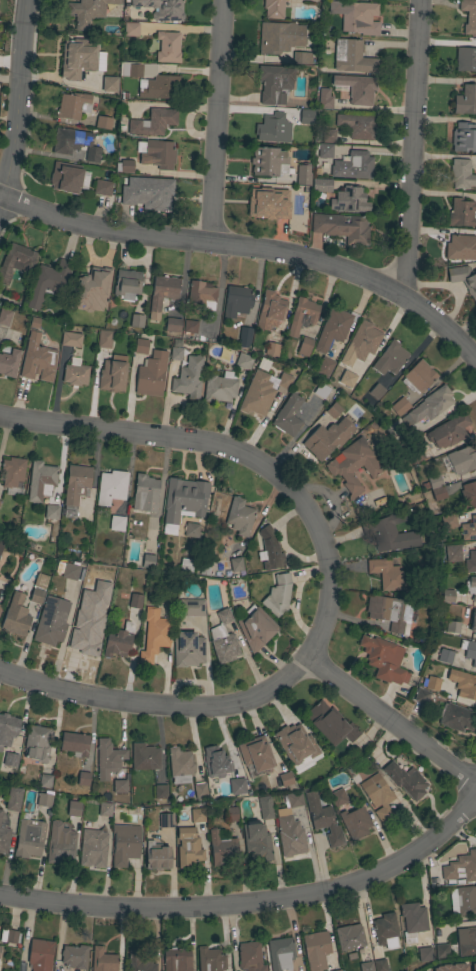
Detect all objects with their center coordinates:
building: (273, 8)
building: (161, 9)
building: (87, 11)
building: (469, 15)
building: (356, 16)
building: (130, 29)
building: (279, 37)
building: (167, 47)
building: (79, 56)
building: (351, 57)
building: (301, 58)
building: (465, 59)
building: (134, 70)
building: (274, 83)
building: (108, 84)
building: (160, 87)
building: (358, 89)
building: (324, 99)
road: (14, 100)
building: (465, 100)
building: (73, 105)
building: (306, 116)
road: (215, 120)
building: (103, 122)
building: (152, 122)
building: (357, 125)
building: (273, 128)
building: (328, 135)
building: (464, 137)
building: (74, 143)
road: (409, 148)
building: (324, 150)
building: (158, 154)
building: (267, 161)
building: (355, 164)
building: (124, 166)
building: (303, 174)
building: (461, 174)
building: (65, 177)
building: (321, 185)
building: (102, 187)
building: (148, 197)
building: (349, 200)
building: (268, 203)
building: (460, 212)
building: (341, 227)
building: (461, 246)
road: (254, 248)
building: (15, 261)
building: (464, 279)
building: (48, 281)
building: (127, 284)
building: (91, 290)
building: (161, 293)
building: (200, 294)
building: (236, 300)
building: (270, 310)
building: (301, 315)
building: (4, 316)
building: (136, 321)
building: (172, 325)
building: (189, 327)
building: (332, 329)
building: (244, 336)
building: (103, 338)
building: (70, 339)
building: (364, 340)
building: (140, 346)
building: (304, 346)
building: (272, 349)
building: (175, 353)
building: (389, 358)
building: (37, 359)
building: (243, 361)
building: (9, 362)
building: (344, 364)
building: (260, 365)
building: (324, 367)
building: (75, 372)
building: (150, 374)
building: (111, 376)
building: (418, 376)
building: (188, 377)
building: (344, 380)
building: (284, 381)
building: (219, 387)
building: (321, 390)
building: (376, 390)
building: (256, 394)
building: (399, 406)
building: (428, 406)
building: (333, 410)
building: (287, 415)
building: (448, 431)
building: (327, 438)
road: (241, 453)
building: (415, 455)
building: (460, 460)
building: (352, 465)
building: (12, 472)
building: (41, 481)
building: (110, 487)
building: (436, 487)
building: (75, 488)
building: (144, 493)
building: (468, 493)
building: (183, 498)
building: (51, 511)
building: (239, 516)
building: (448, 521)
building: (116, 523)
building: (469, 529)
building: (191, 530)
building: (389, 532)
building: (1, 544)
building: (270, 549)
building: (452, 552)
building: (148, 561)
building: (470, 562)
building: (235, 564)
building: (67, 570)
building: (386, 574)
building: (277, 595)
building: (36, 596)
building: (447, 596)
building: (474, 597)
building: (134, 600)
building: (0, 605)
building: (100, 605)
building: (190, 607)
building: (390, 612)
building: (15, 616)
building: (473, 620)
building: (51, 621)
building: (451, 627)
building: (255, 628)
building: (83, 633)
building: (154, 634)
building: (223, 639)
building: (118, 640)
building: (187, 649)
building: (470, 652)
building: (445, 656)
building: (383, 659)
building: (432, 683)
building: (463, 684)
road: (260, 692)
building: (421, 695)
building: (457, 717)
building: (329, 724)
building: (8, 726)
building: (36, 743)
building: (295, 743)
building: (74, 744)
building: (255, 754)
building: (144, 757)
building: (107, 758)
building: (10, 760)
building: (216, 761)
building: (179, 765)
building: (83, 778)
building: (285, 779)
building: (44, 780)
building: (405, 780)
building: (119, 786)
building: (236, 786)
building: (199, 790)
building: (160, 791)
building: (377, 796)
building: (337, 797)
building: (293, 798)
building: (13, 799)
building: (44, 800)
building: (73, 808)
building: (265, 808)
building: (104, 809)
building: (0, 813)
building: (231, 813)
building: (197, 815)
building: (323, 819)
building: (165, 820)
building: (355, 822)
building: (289, 835)
building: (28, 838)
building: (3, 839)
building: (256, 841)
building: (59, 844)
building: (124, 844)
building: (92, 846)
building: (187, 847)
building: (222, 849)
building: (157, 857)
building: (460, 866)
road: (252, 899)
building: (463, 901)
building: (412, 921)
building: (385, 930)
building: (9, 936)
building: (350, 937)
building: (467, 943)
building: (316, 950)
building: (441, 951)
building: (281, 953)
building: (424, 954)
building: (40, 955)
building: (250, 956)
building: (74, 957)
building: (176, 959)
building: (210, 959)
building: (103, 960)
building: (138, 962)
building: (379, 965)
building: (366, 966)
building: (450, 967)
building: (473, 967)
building: (339, 970)

